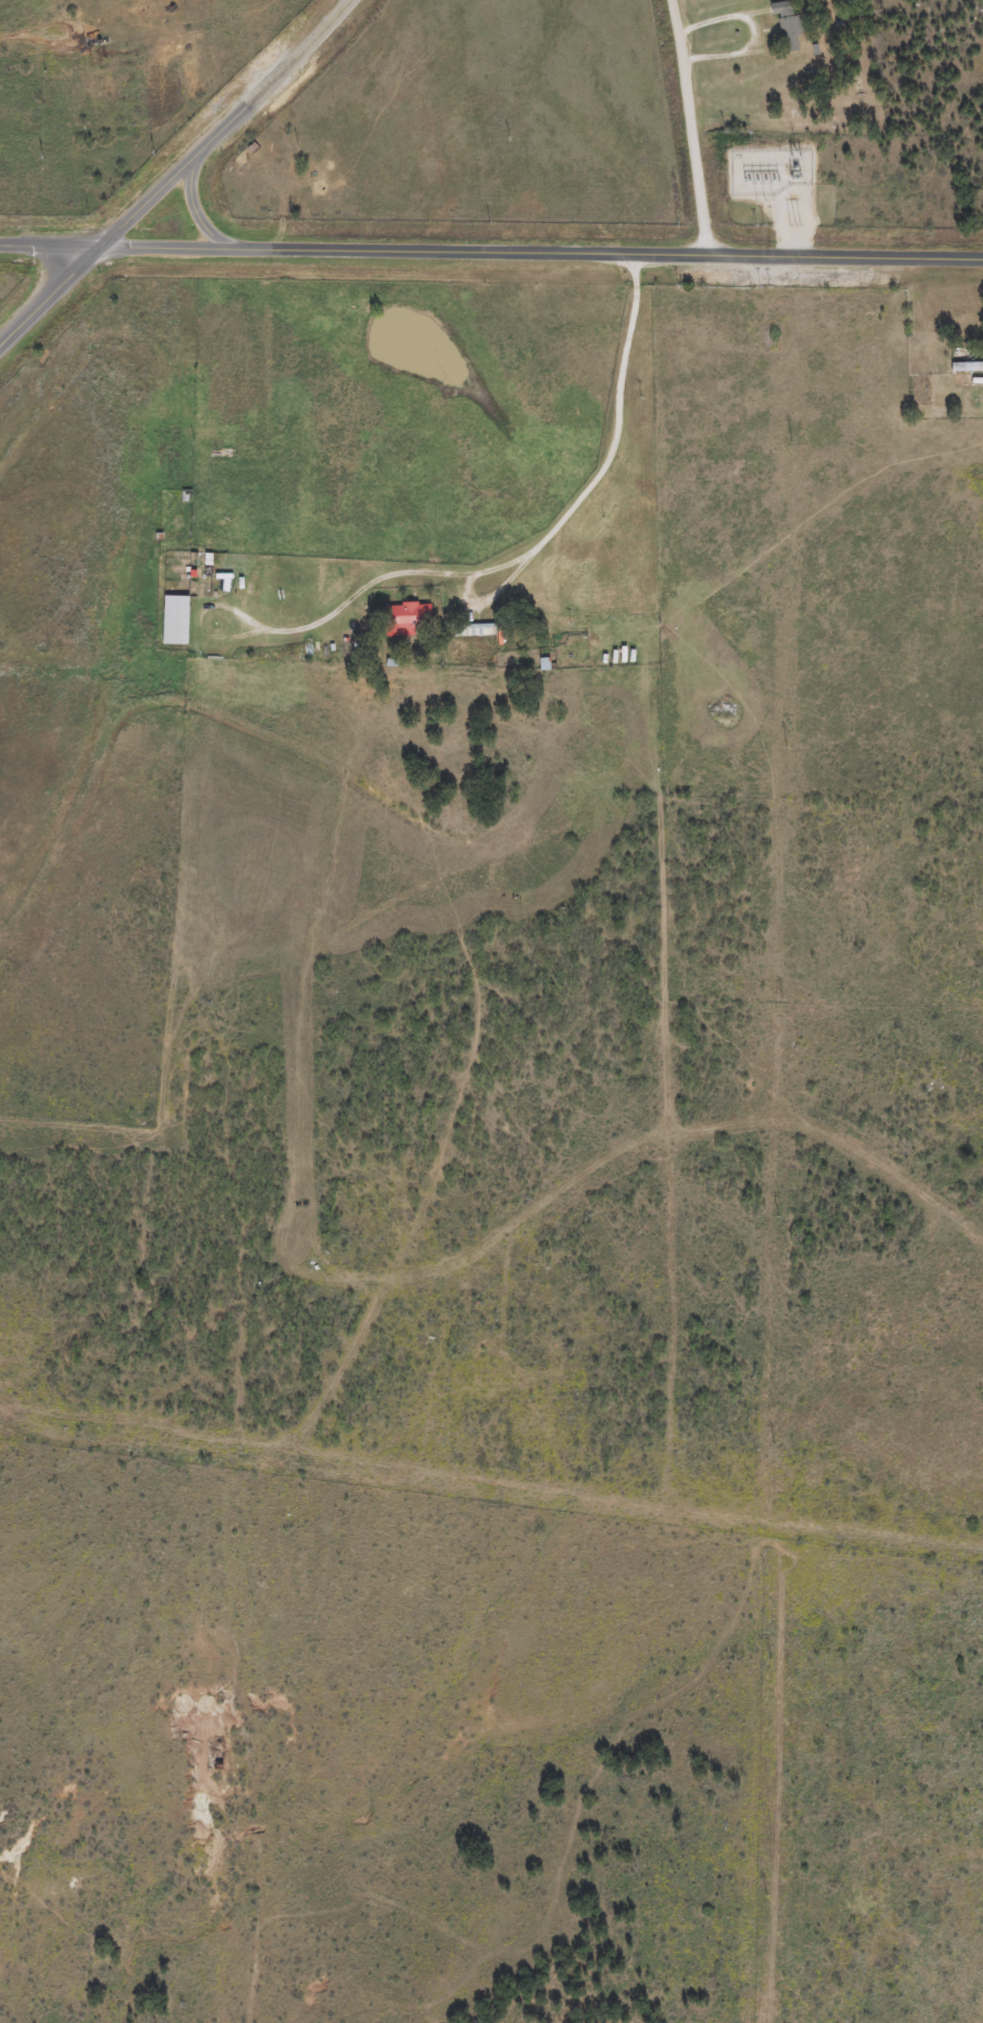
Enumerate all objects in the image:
road: (621, 4)
building: (786, 25)
road: (176, 174)
road: (200, 221)
road: (491, 254)
road: (585, 493)
building: (410, 617)
building: (177, 618)
building: (480, 629)

